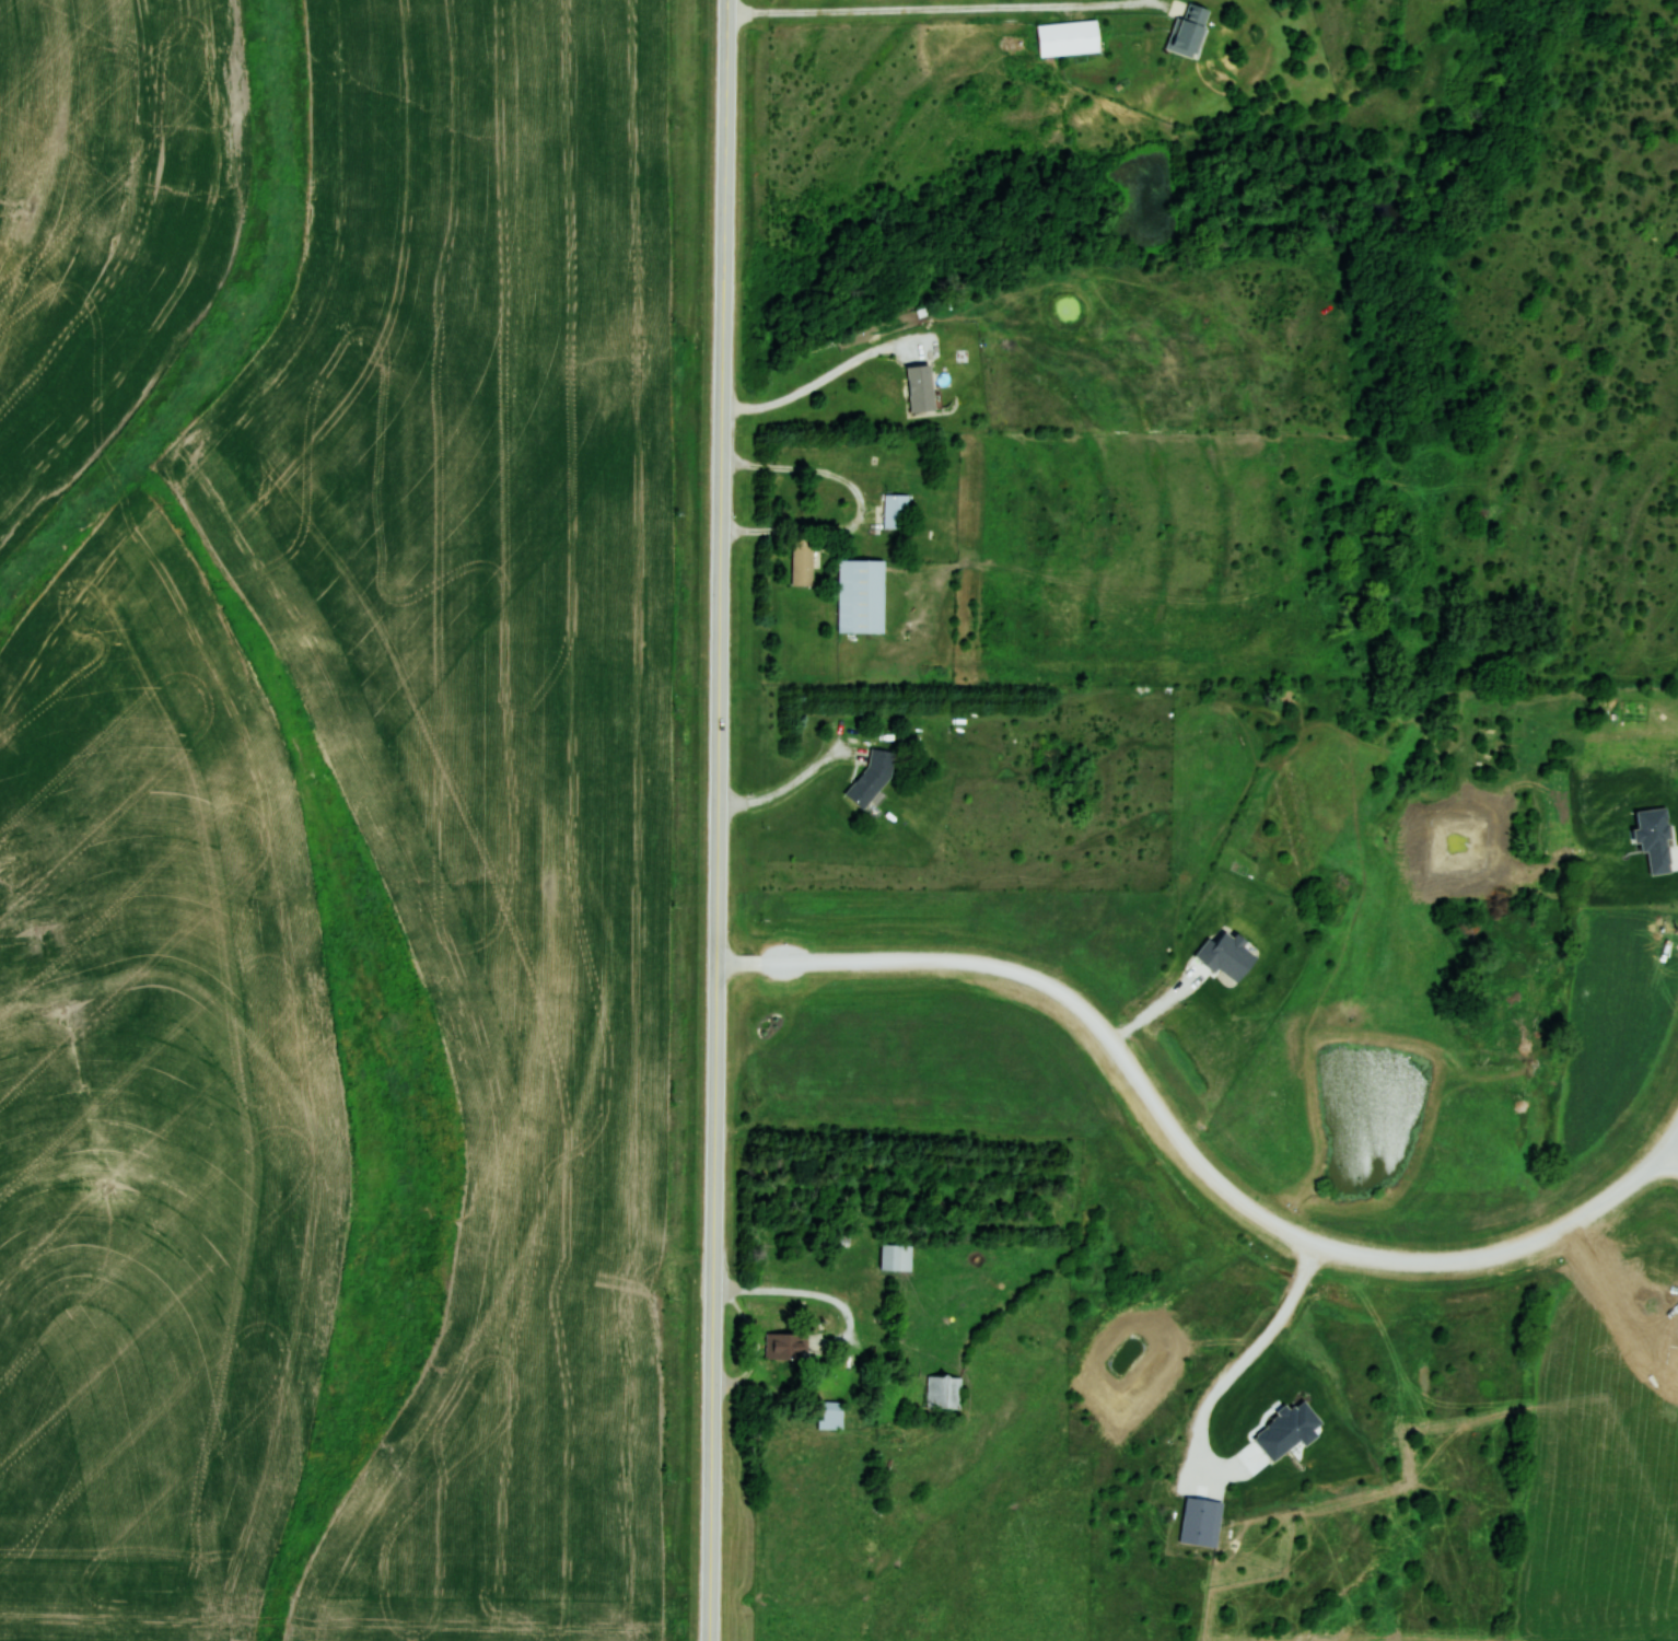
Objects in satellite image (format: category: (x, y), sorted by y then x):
road: (942, 9)
building: (1188, 31)
building: (1068, 38)
building: (963, 97)
road: (824, 377)
building: (920, 388)
road: (861, 504)
building: (896, 509)
building: (802, 562)
building: (861, 596)
road: (789, 787)
road: (719, 821)
road: (1673, 1142)
road: (1185, 1149)
road: (1673, 1155)
building: (896, 1257)
road: (800, 1292)
building: (785, 1347)
building: (943, 1393)
building: (830, 1416)

